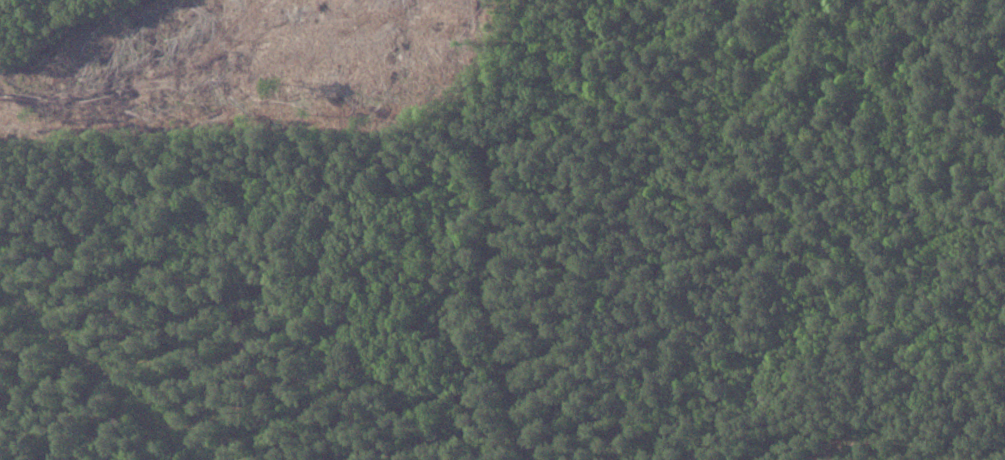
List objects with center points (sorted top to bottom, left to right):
crop: (108, 457)

